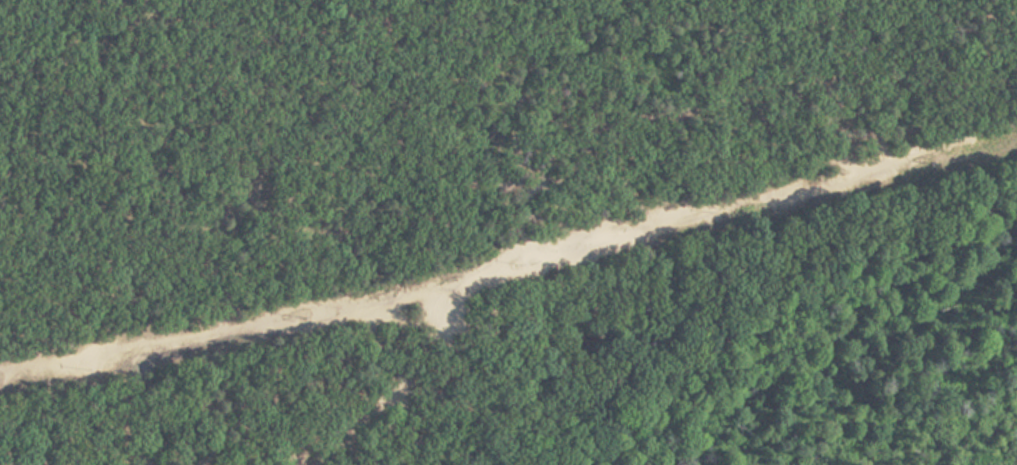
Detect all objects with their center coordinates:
road: (457, 286)

